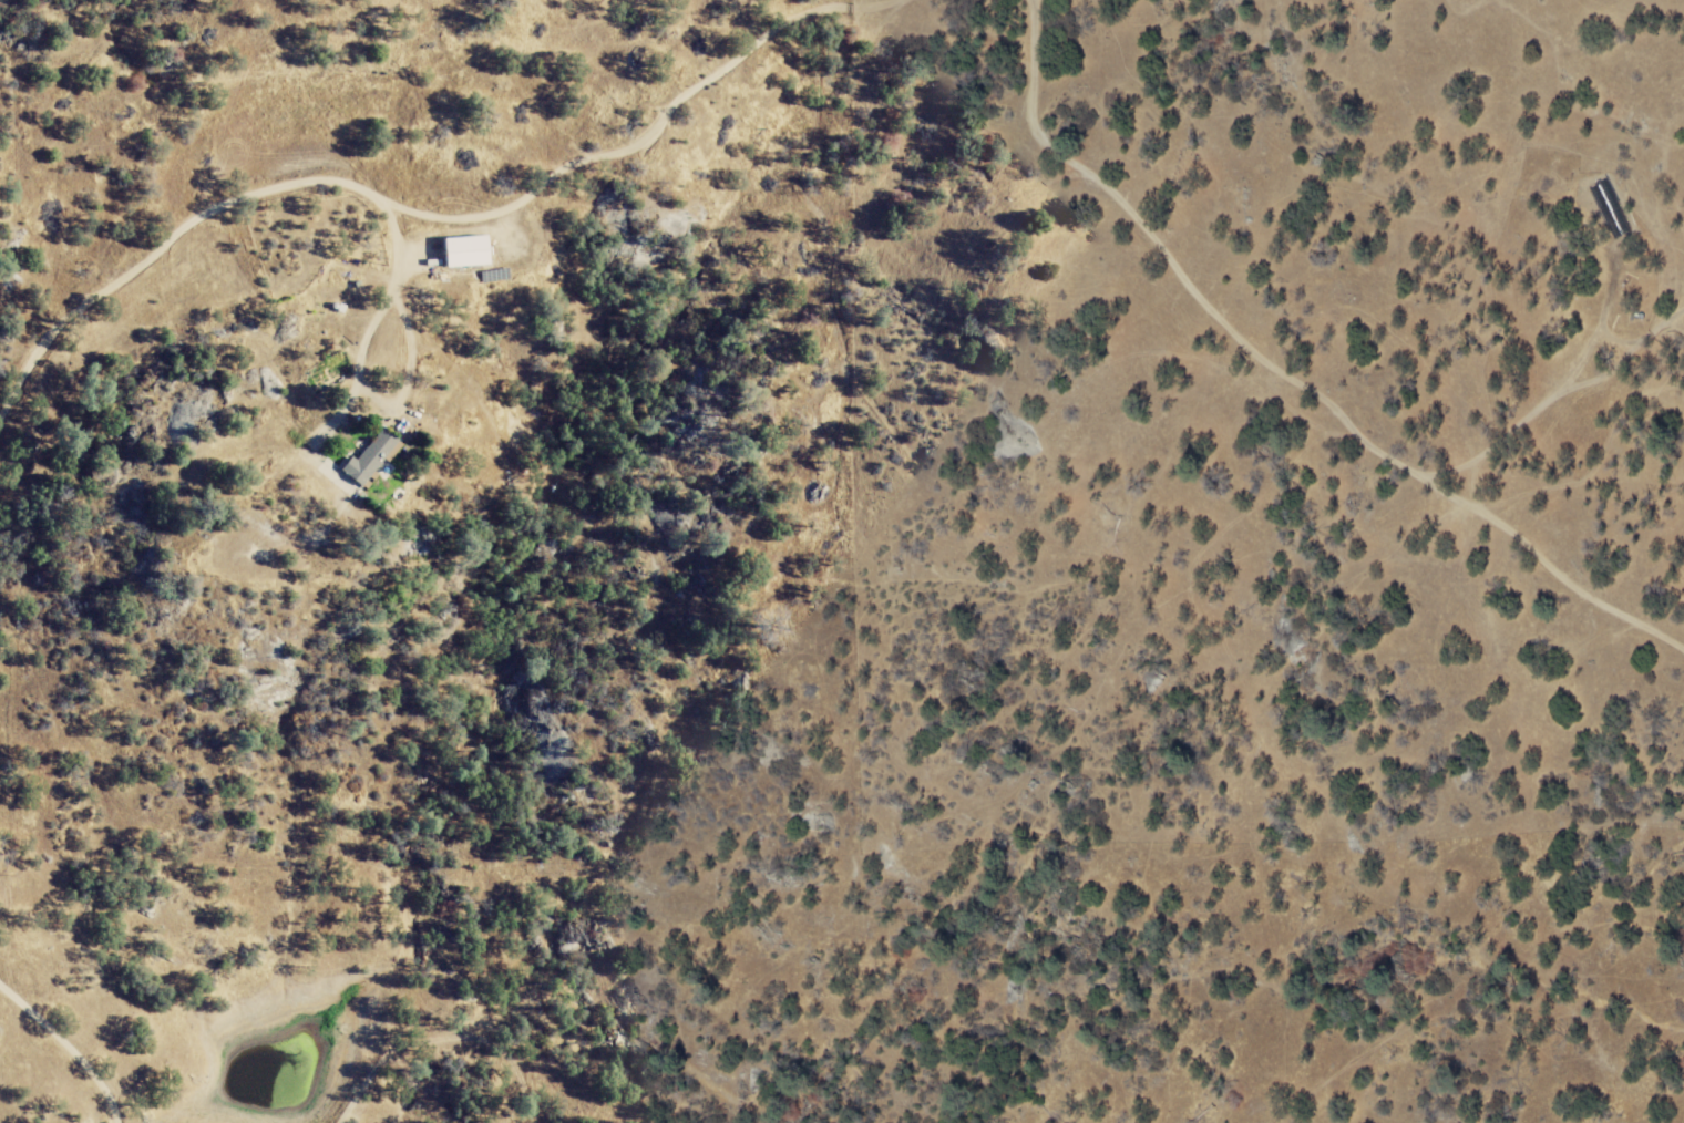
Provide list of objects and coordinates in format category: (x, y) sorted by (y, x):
road: (705, 73)
road: (230, 204)
building: (468, 251)
road: (359, 369)
road: (1287, 373)
road: (1557, 396)
building: (373, 459)
road: (1478, 483)
road: (69, 1047)

